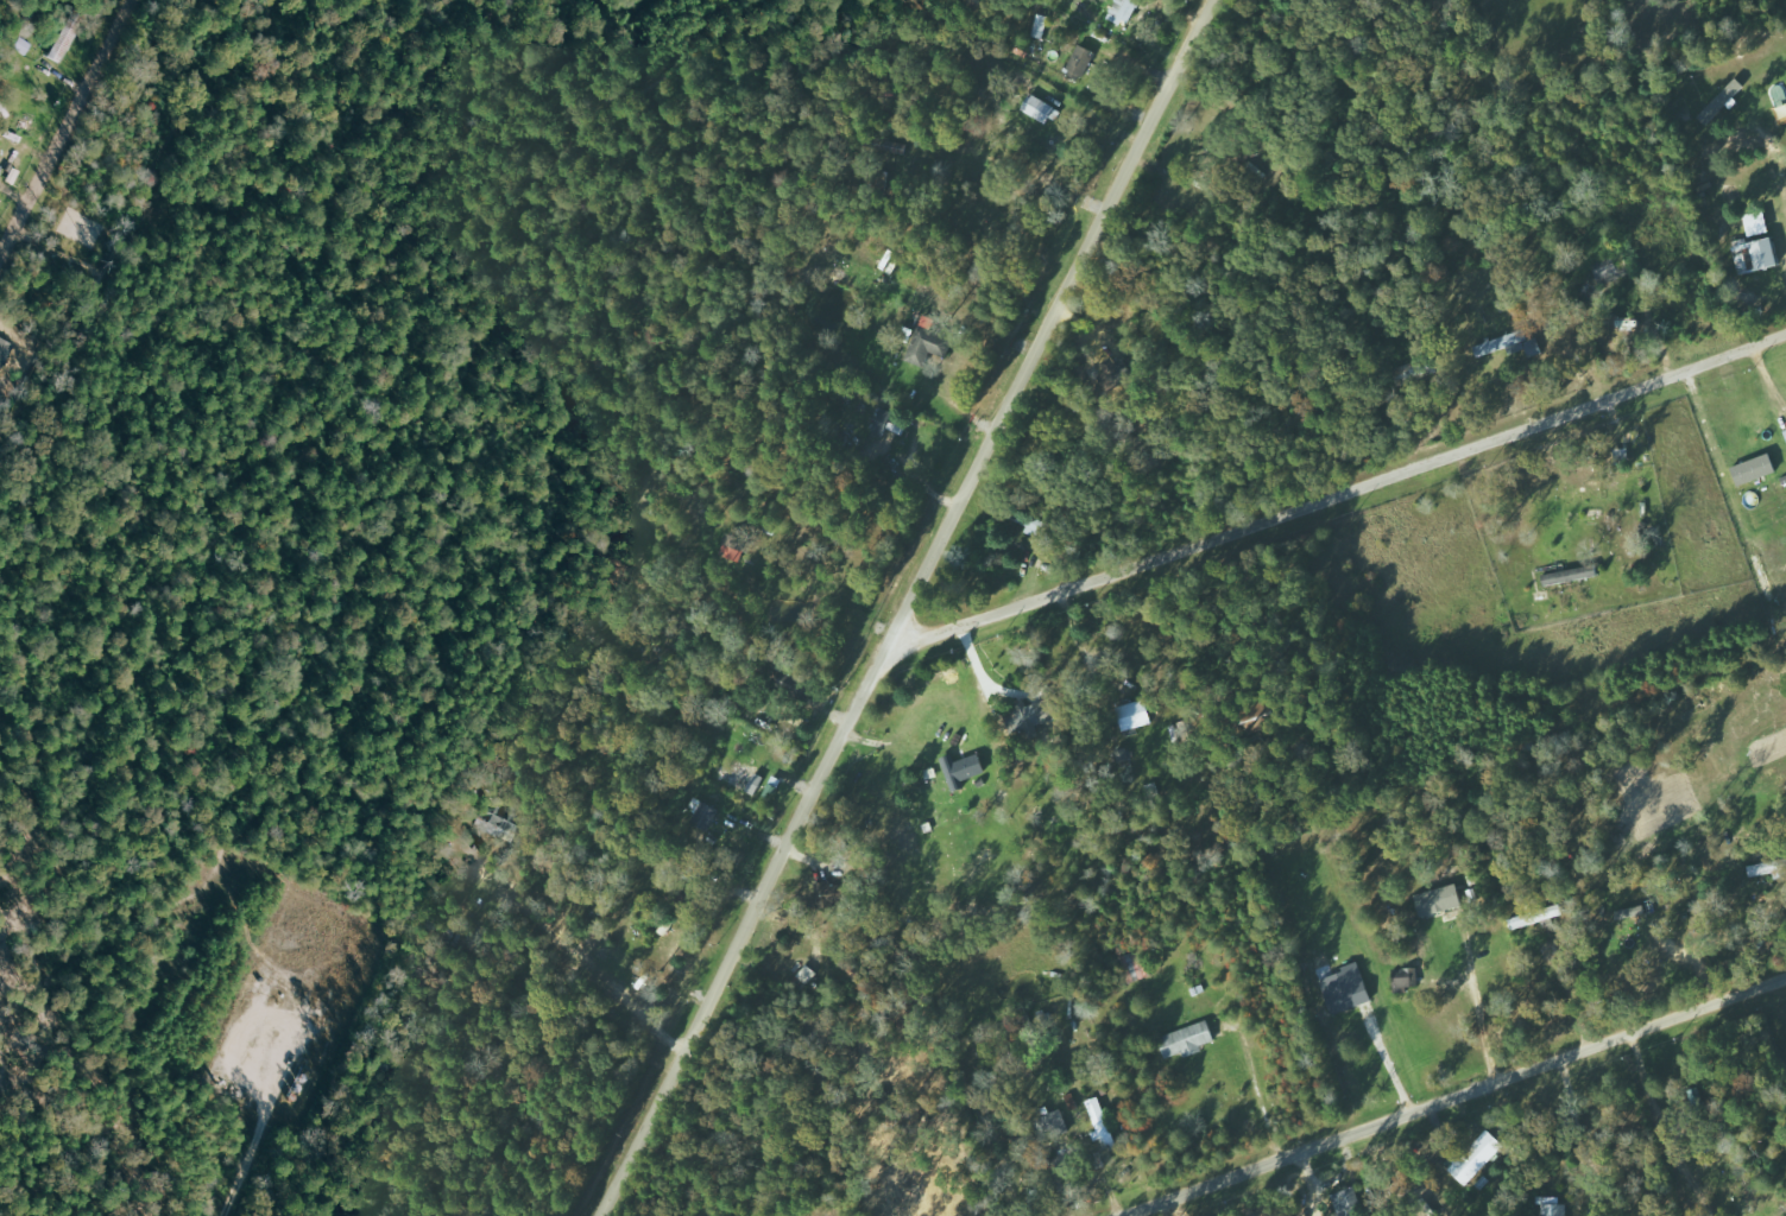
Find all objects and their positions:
building: (1123, 11)
building: (1040, 25)
building: (1081, 61)
building: (1721, 101)
building: (1040, 109)
road: (70, 138)
building: (1757, 227)
building: (1755, 254)
building: (1611, 268)
building: (928, 343)
building: (1509, 344)
building: (1413, 369)
building: (885, 424)
building: (1785, 431)
building: (1755, 470)
road: (1339, 475)
building: (733, 546)
building: (1570, 575)
building: (1767, 585)
road: (905, 608)
building: (795, 685)
building: (1135, 715)
building: (1033, 720)
building: (963, 769)
building: (703, 813)
building: (497, 822)
building: (1766, 868)
building: (827, 895)
building: (1440, 900)
building: (1633, 912)
building: (1539, 916)
building: (1135, 965)
building: (1406, 978)
building: (1346, 989)
building: (1187, 1040)
road: (1454, 1096)
building: (1103, 1123)
building: (1476, 1157)
building: (1348, 1203)
building: (1554, 1208)

